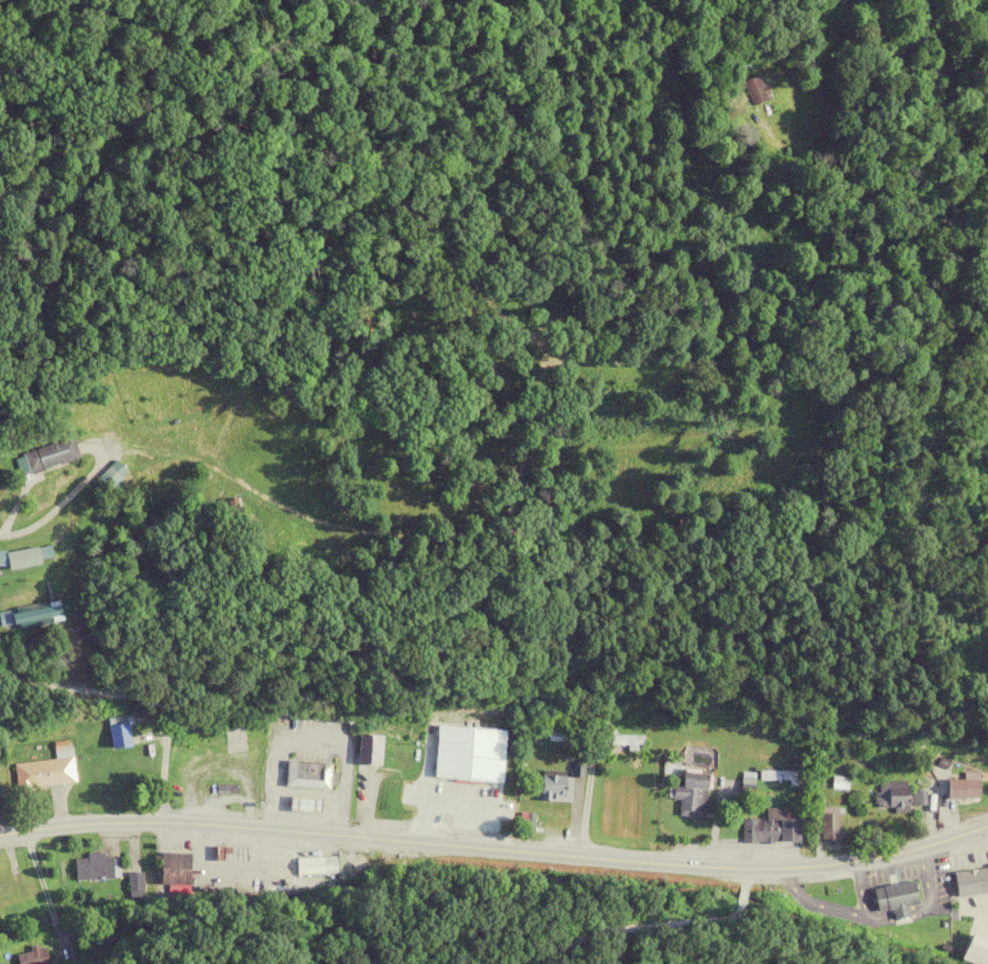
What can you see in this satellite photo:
building: (753, 90)
building: (50, 455)
building: (110, 475)
building: (231, 507)
road: (49, 517)
building: (22, 558)
building: (36, 616)
road: (141, 699)
building: (118, 732)
building: (563, 737)
building: (235, 738)
building: (620, 741)
building: (199, 744)
building: (369, 750)
building: (399, 758)
building: (47, 770)
building: (309, 775)
building: (964, 787)
building: (227, 789)
building: (555, 789)
building: (690, 794)
building: (898, 797)
building: (413, 801)
building: (305, 805)
building: (462, 808)
building: (829, 823)
building: (770, 830)
road: (496, 846)
building: (315, 866)
building: (95, 868)
building: (174, 870)
building: (971, 881)
building: (10, 883)
building: (134, 886)
building: (895, 896)
building: (975, 951)
building: (34, 957)

